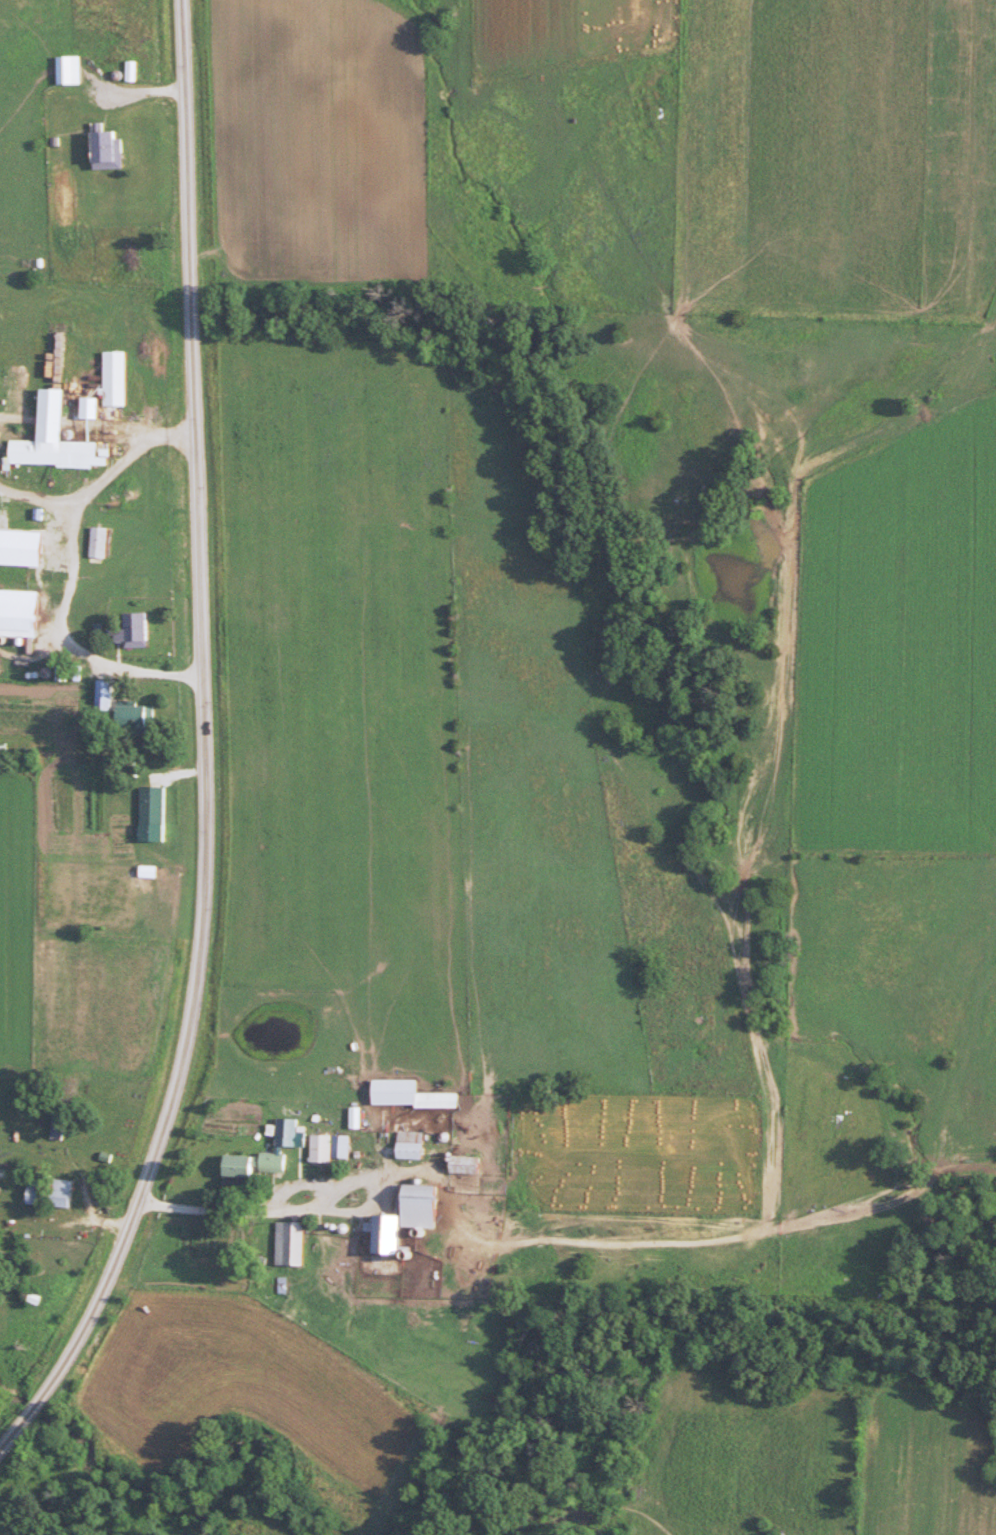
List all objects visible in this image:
building: (74, 71)
building: (114, 150)
building: (120, 378)
road: (15, 418)
building: (66, 452)
road: (100, 477)
building: (105, 542)
building: (54, 566)
building: (24, 611)
road: (704, 621)
building: (135, 628)
road: (74, 638)
building: (110, 693)
building: (142, 720)
road: (206, 749)
road: (758, 1051)
building: (415, 1095)
building: (64, 1123)
building: (416, 1145)
building: (336, 1148)
building: (474, 1165)
building: (256, 1167)
building: (57, 1193)
road: (333, 1214)
building: (416, 1215)
road: (64, 1224)
building: (295, 1243)

